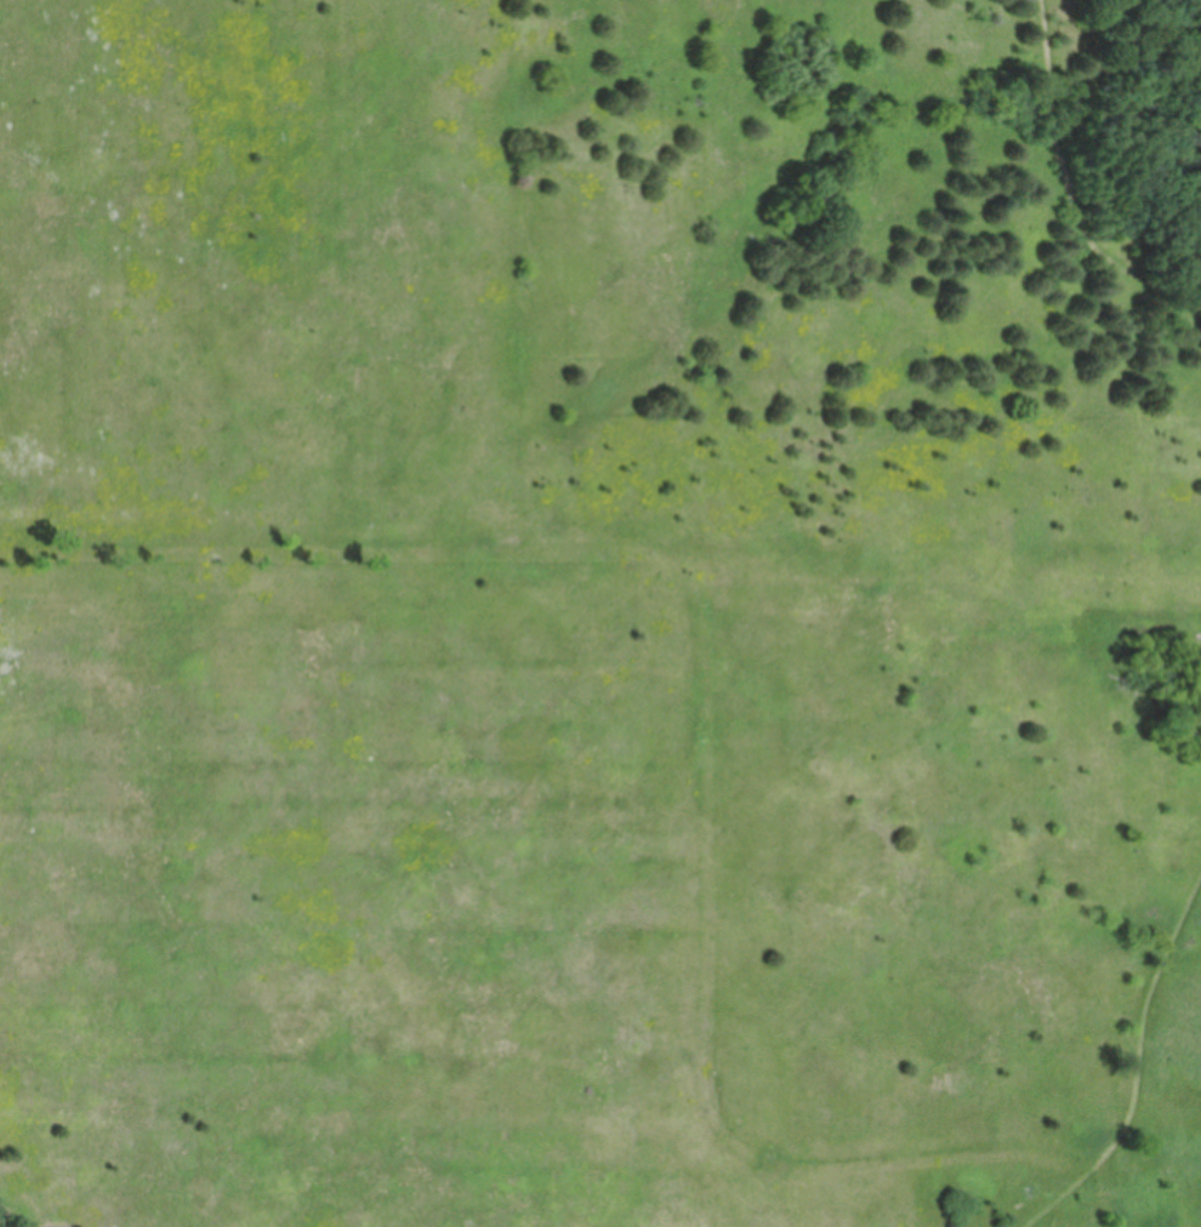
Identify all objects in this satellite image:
road: (1075, 192)
road: (1146, 244)
park: (600, 613)
road: (1144, 1079)
road: (4, 1223)

